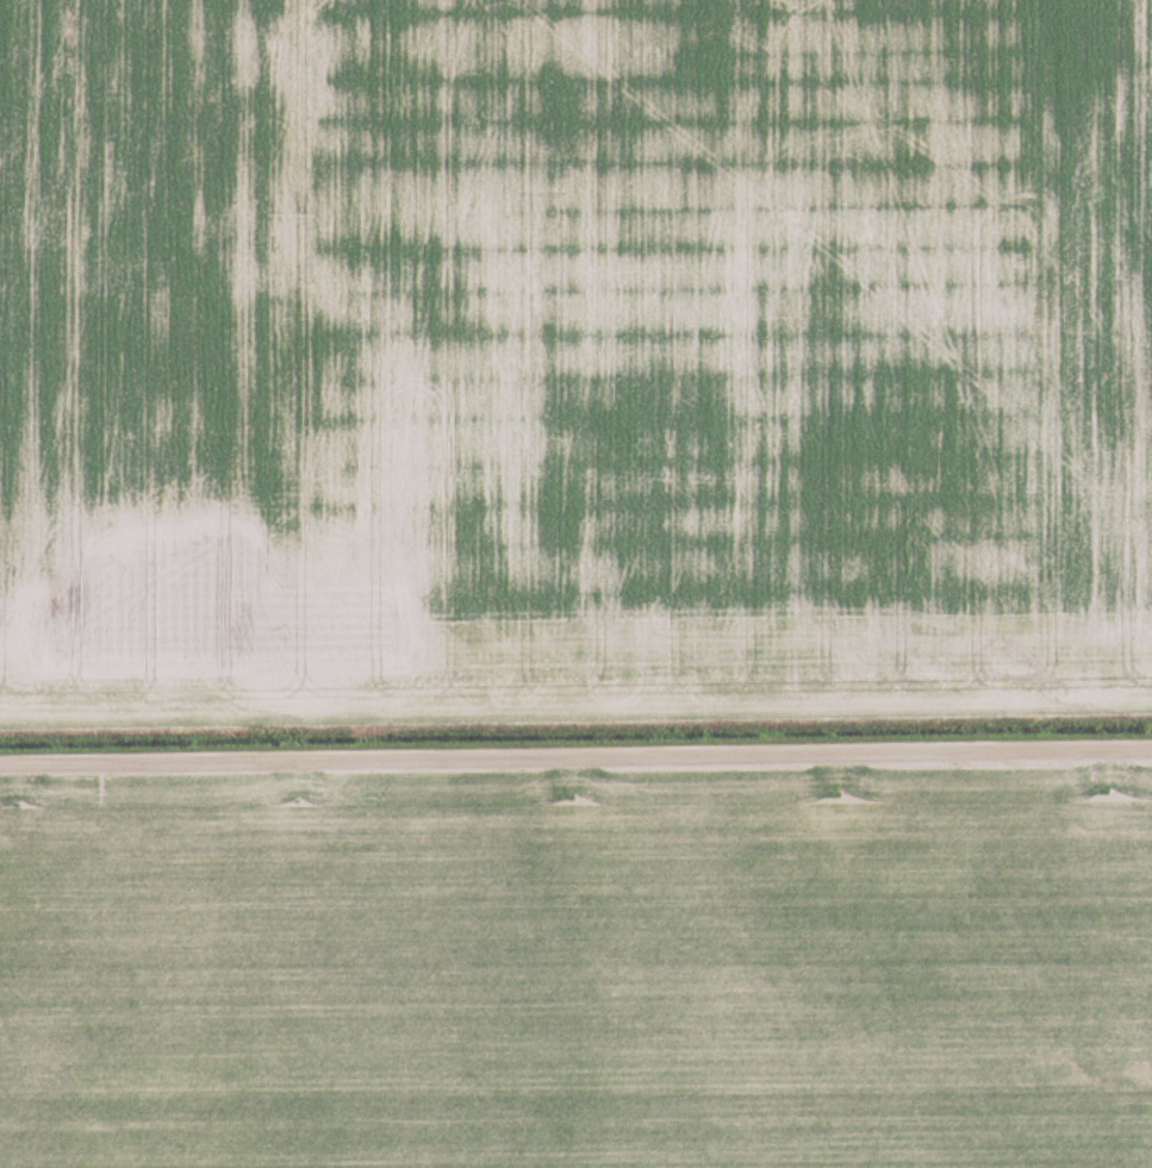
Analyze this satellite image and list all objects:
road: (575, 756)

